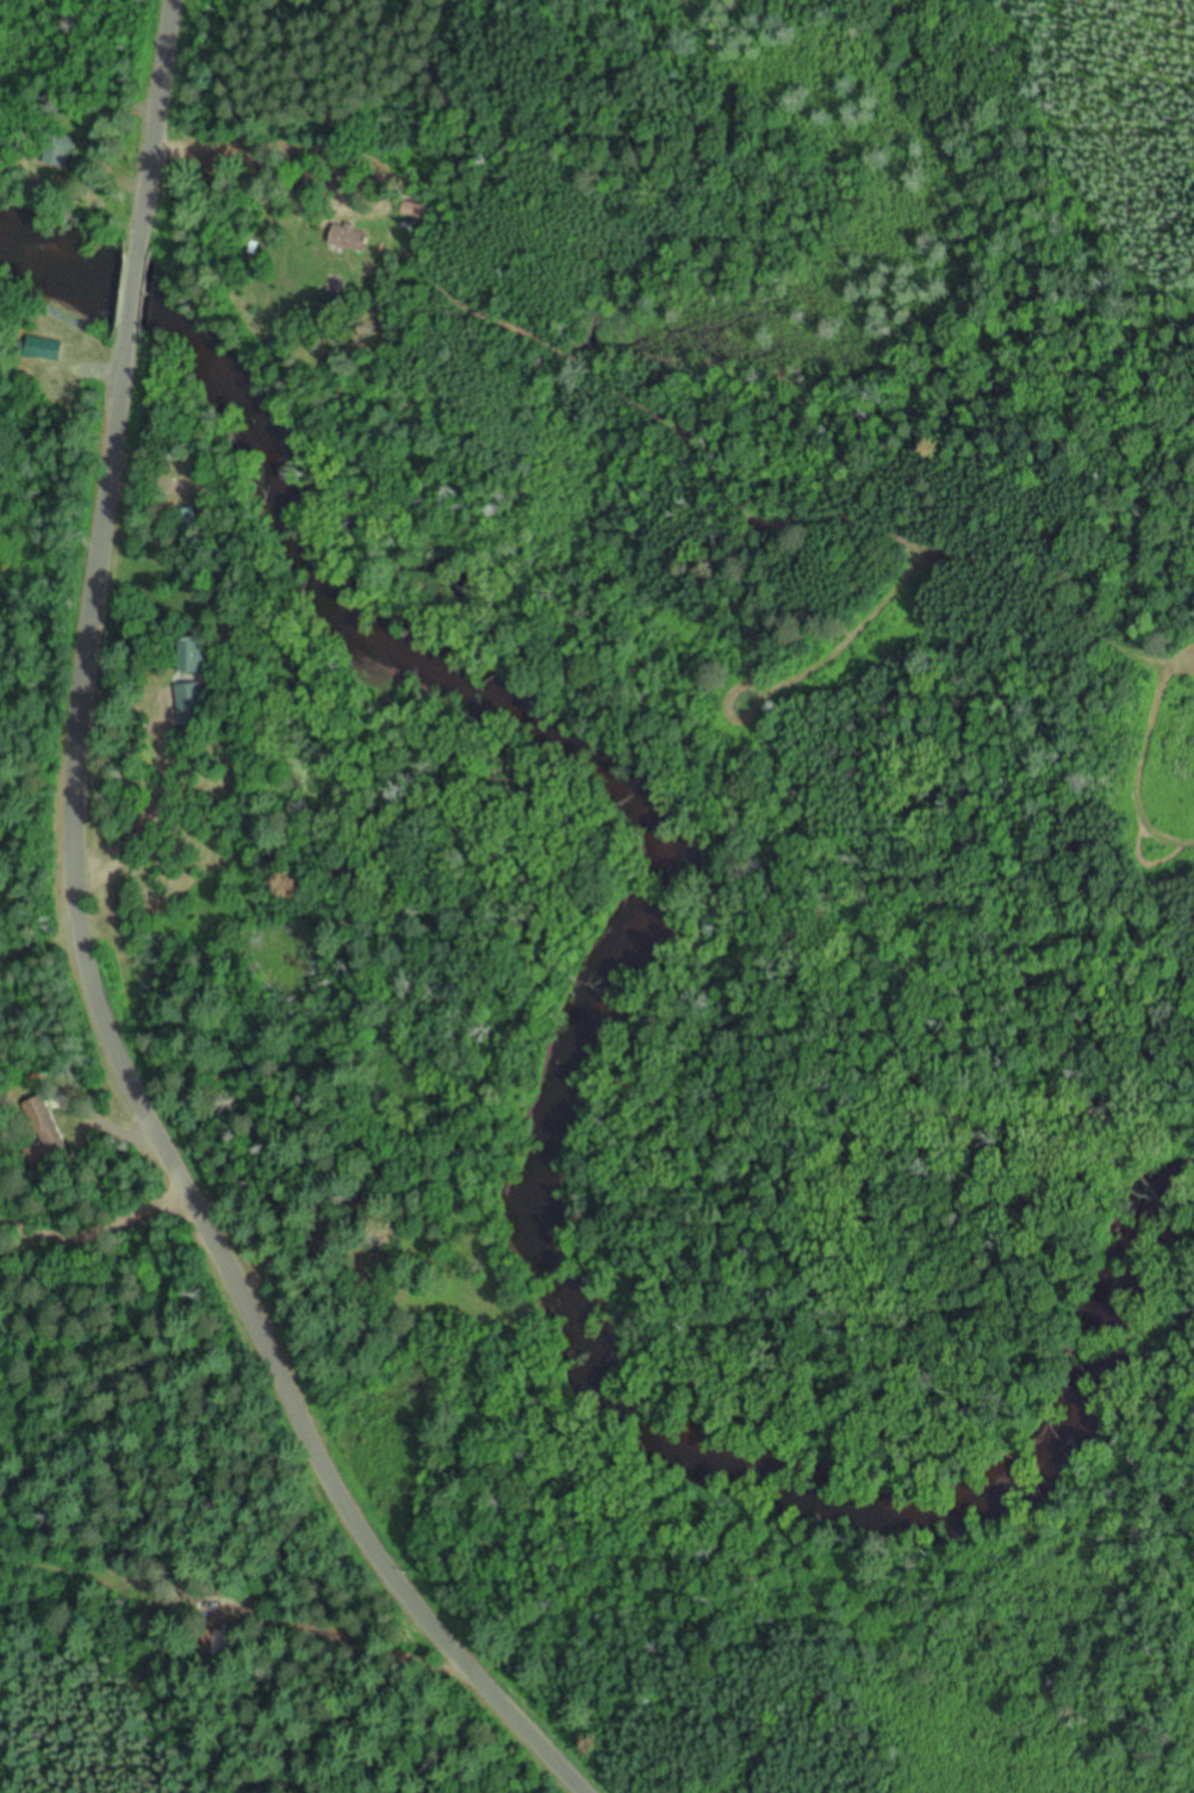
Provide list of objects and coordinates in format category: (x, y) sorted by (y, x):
building: (58, 152)
building: (412, 208)
building: (348, 241)
building: (45, 351)
building: (191, 496)
building: (184, 518)
building: (194, 656)
building: (192, 705)
road: (83, 965)
river: (620, 1032)
building: (45, 1133)
building: (219, 1645)

